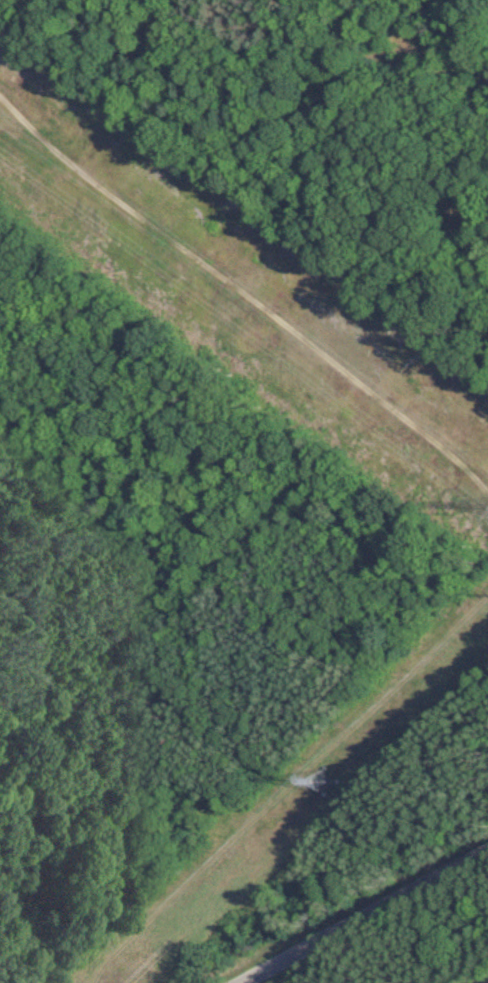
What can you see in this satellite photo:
power tower: (315, 782)
road: (361, 916)

